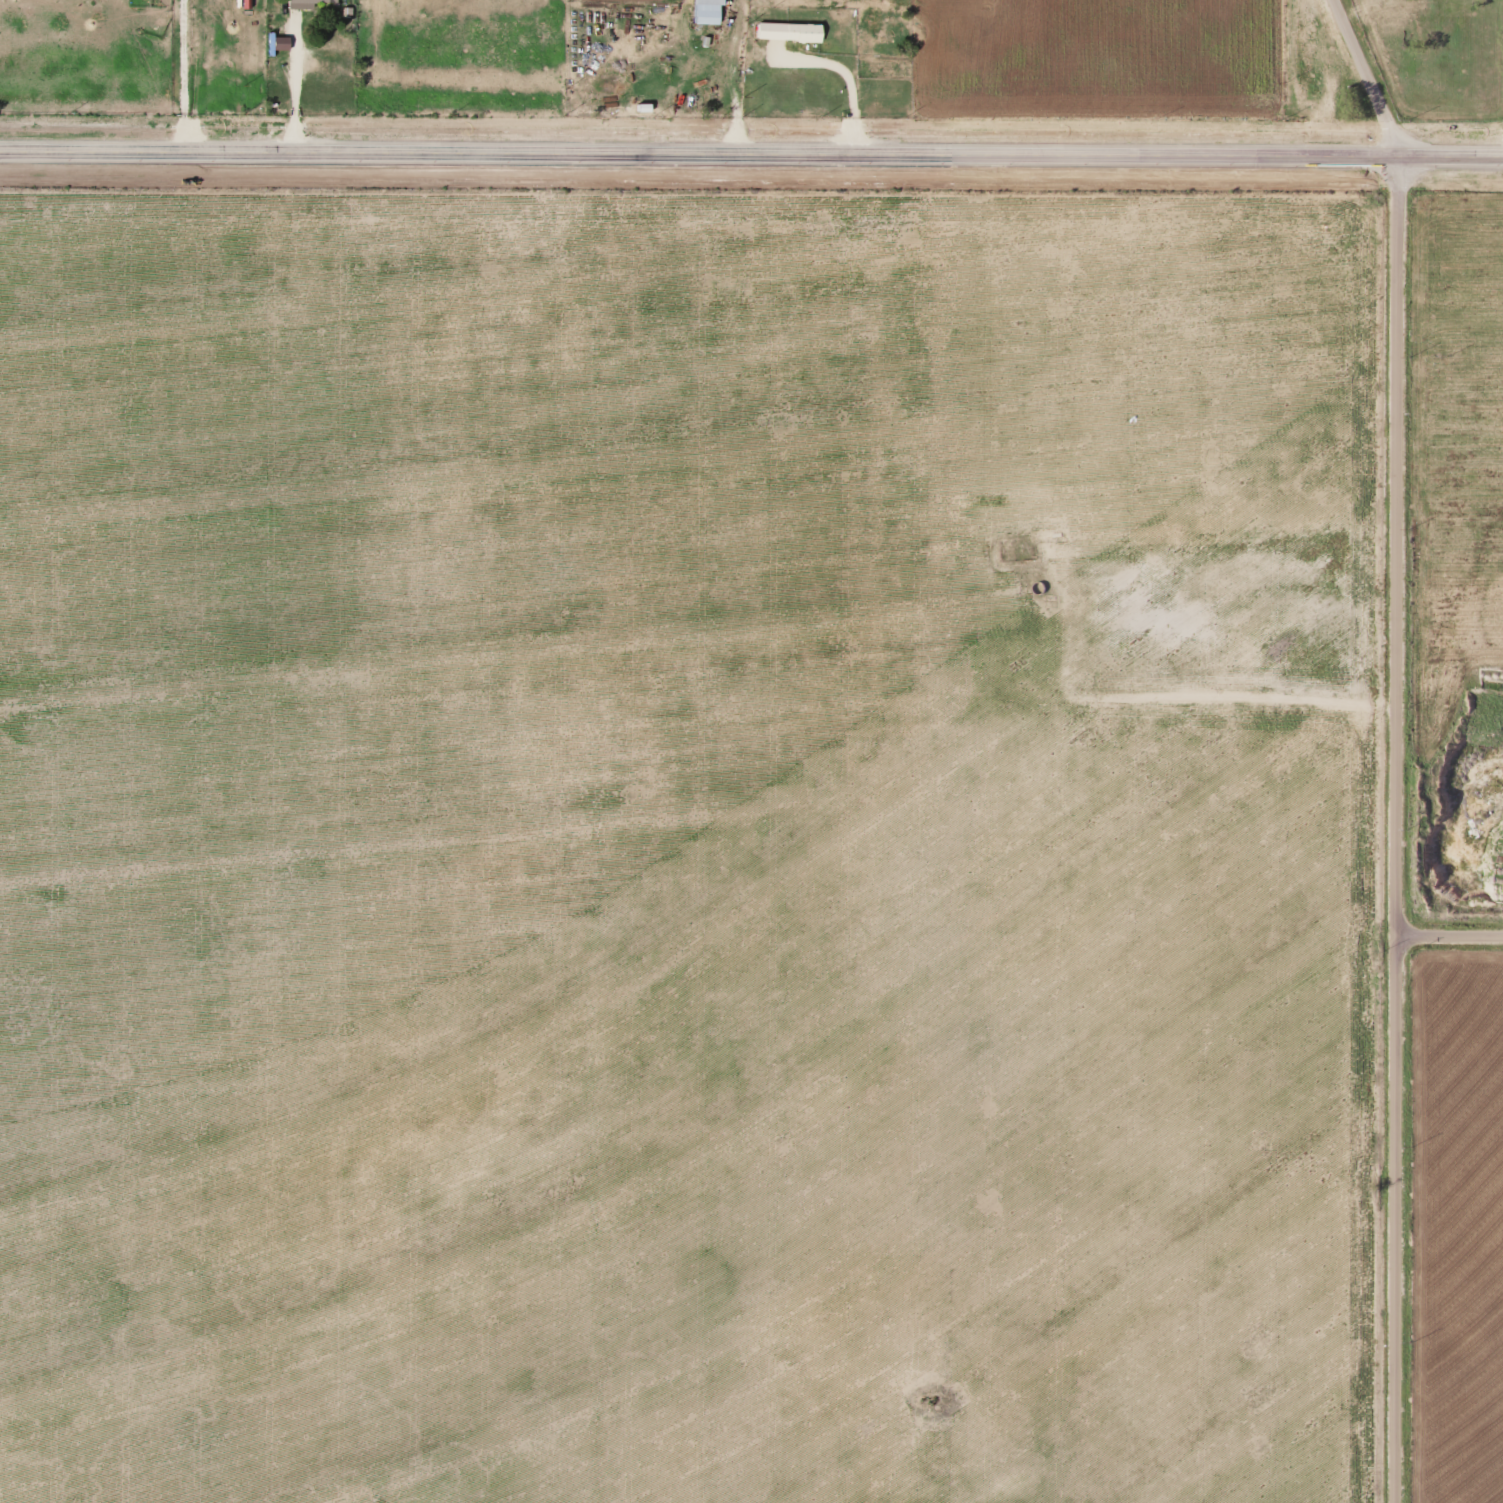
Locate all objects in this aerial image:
building: (299, 3)
building: (703, 11)
building: (783, 32)
building: (281, 43)
road: (1365, 78)
road: (751, 154)
road: (1396, 830)
road: (1450, 941)

